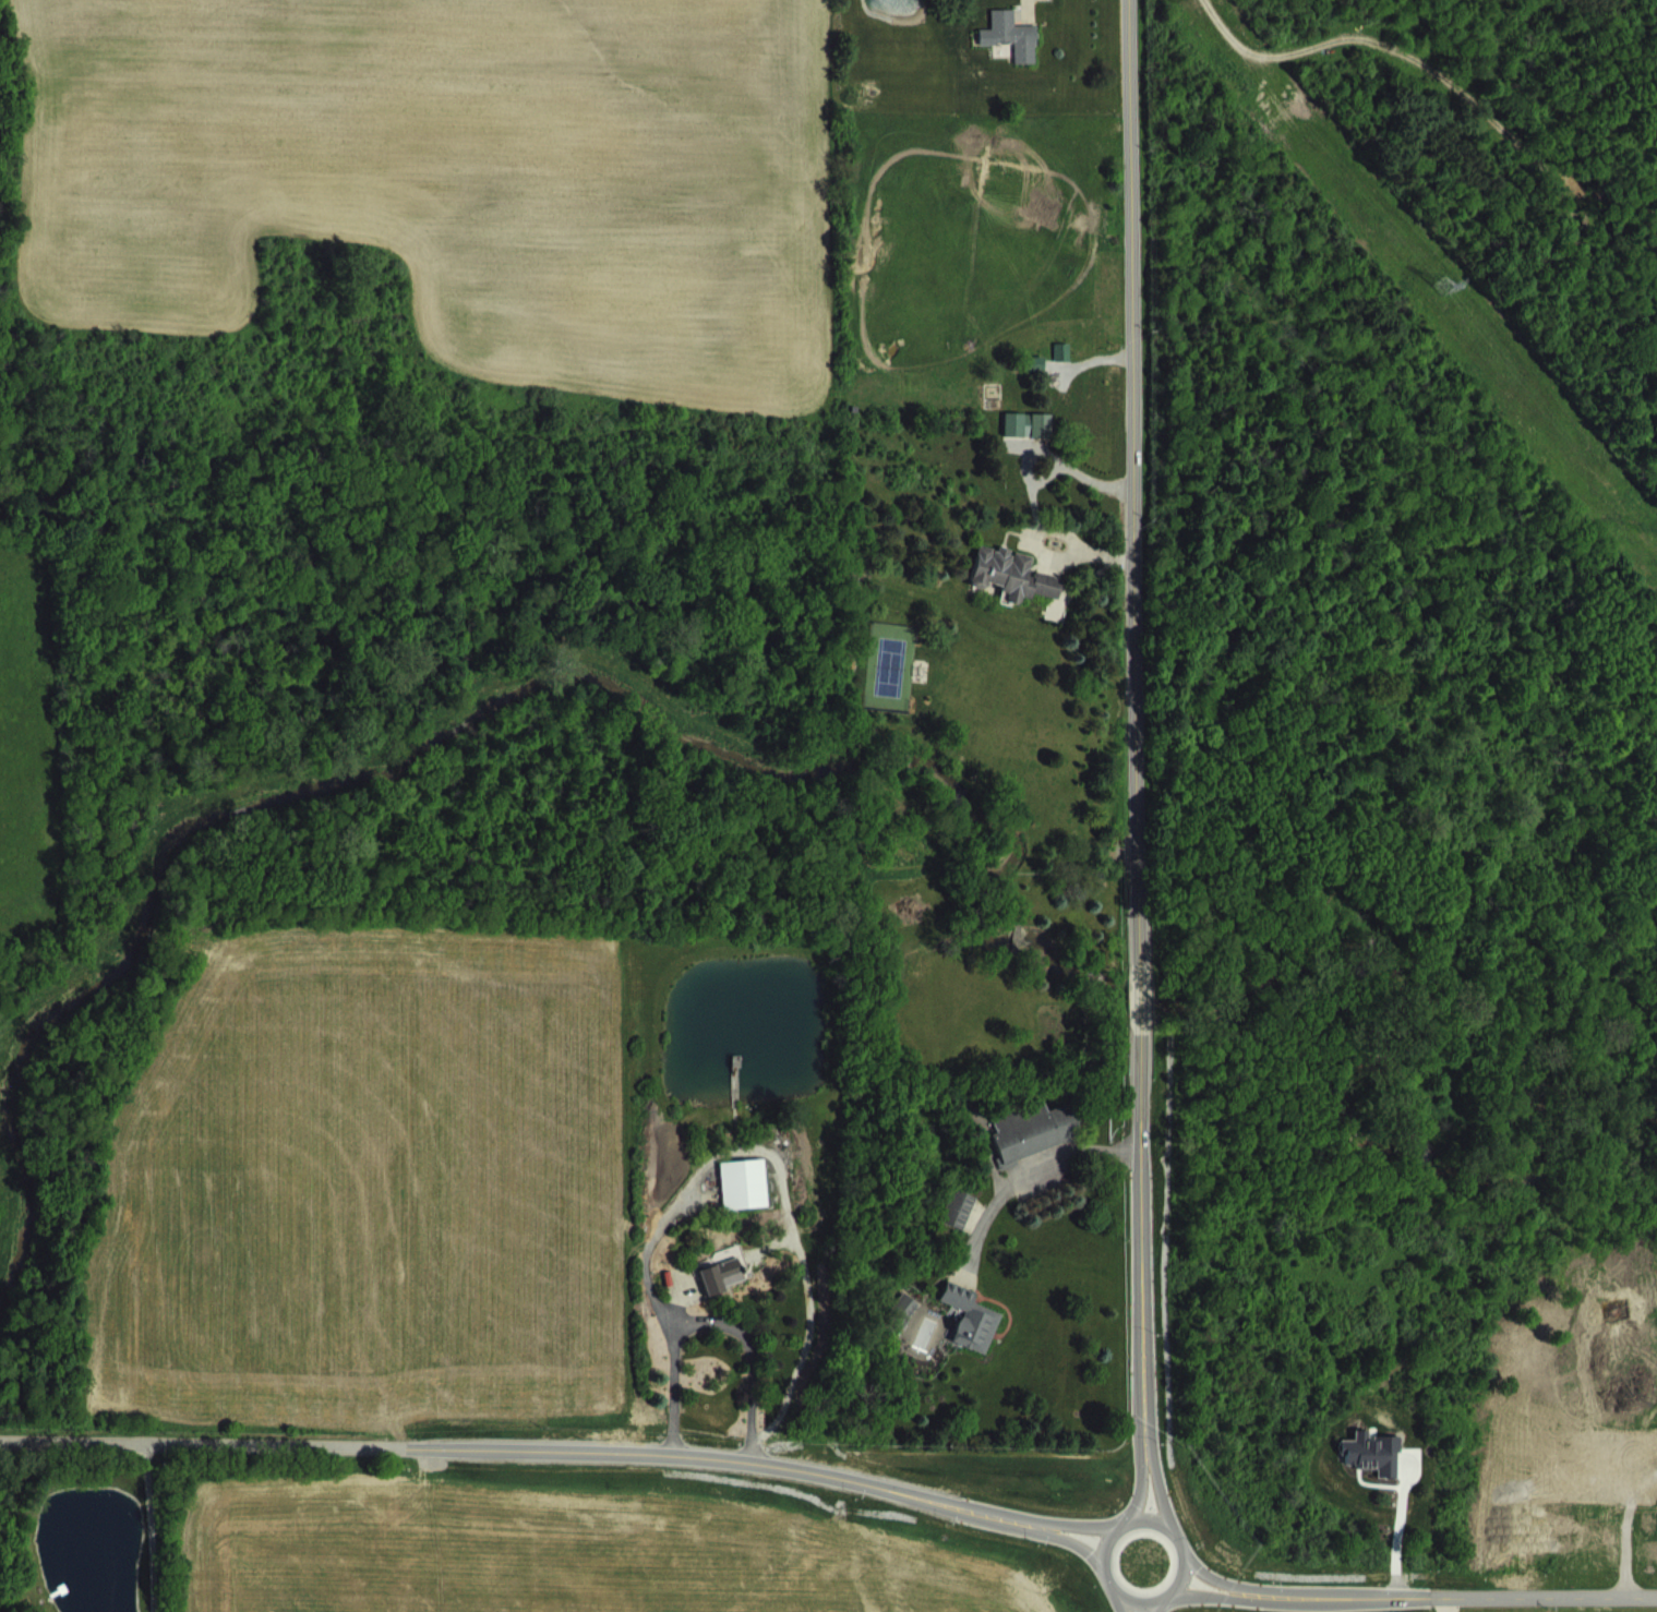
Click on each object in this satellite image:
building: (1013, 53)
power tower: (1442, 284)
building: (1031, 442)
road: (1081, 491)
road: (1134, 516)
road: (1080, 568)
building: (1016, 592)
building: (1035, 1147)
road: (776, 1177)
building: (747, 1202)
building: (960, 1226)
road: (1143, 1244)
building: (727, 1292)
road: (705, 1316)
building: (906, 1327)
building: (974, 1335)
road: (524, 1448)
road: (1140, 1490)
road: (1161, 1492)
road: (148, 1525)
road: (1078, 1525)
road: (1394, 1530)
building: (1596, 1538)
road: (1074, 1542)
road: (1217, 1579)
road: (1211, 1595)
road: (1455, 1596)
road: (1117, 1600)
road: (1141, 1601)
road: (1442, 1604)
road: (1156, 1605)

